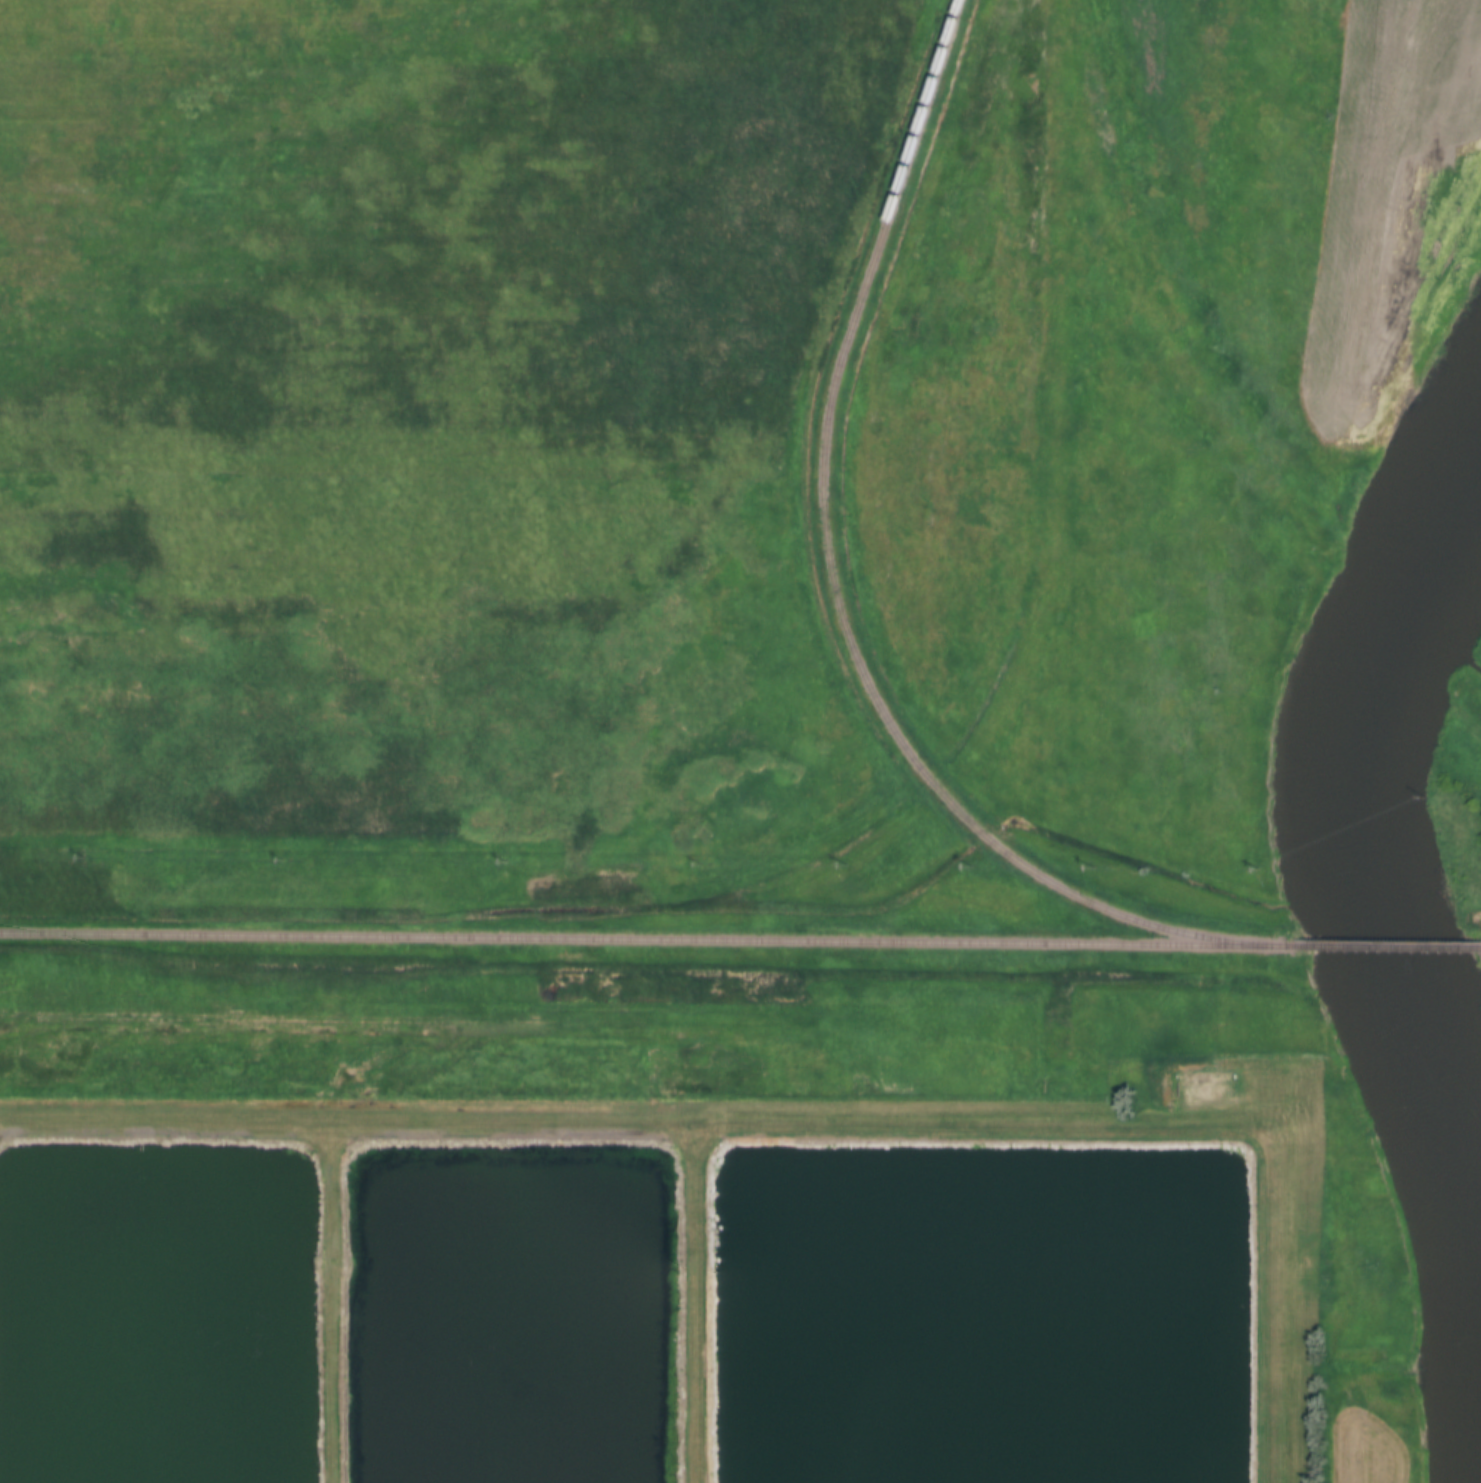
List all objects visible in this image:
railway: (838, 579)
river: (1376, 860)
railway: (651, 938)
railway: (1392, 946)
road: (810, 1116)
road: (333, 1299)
road: (699, 1299)

